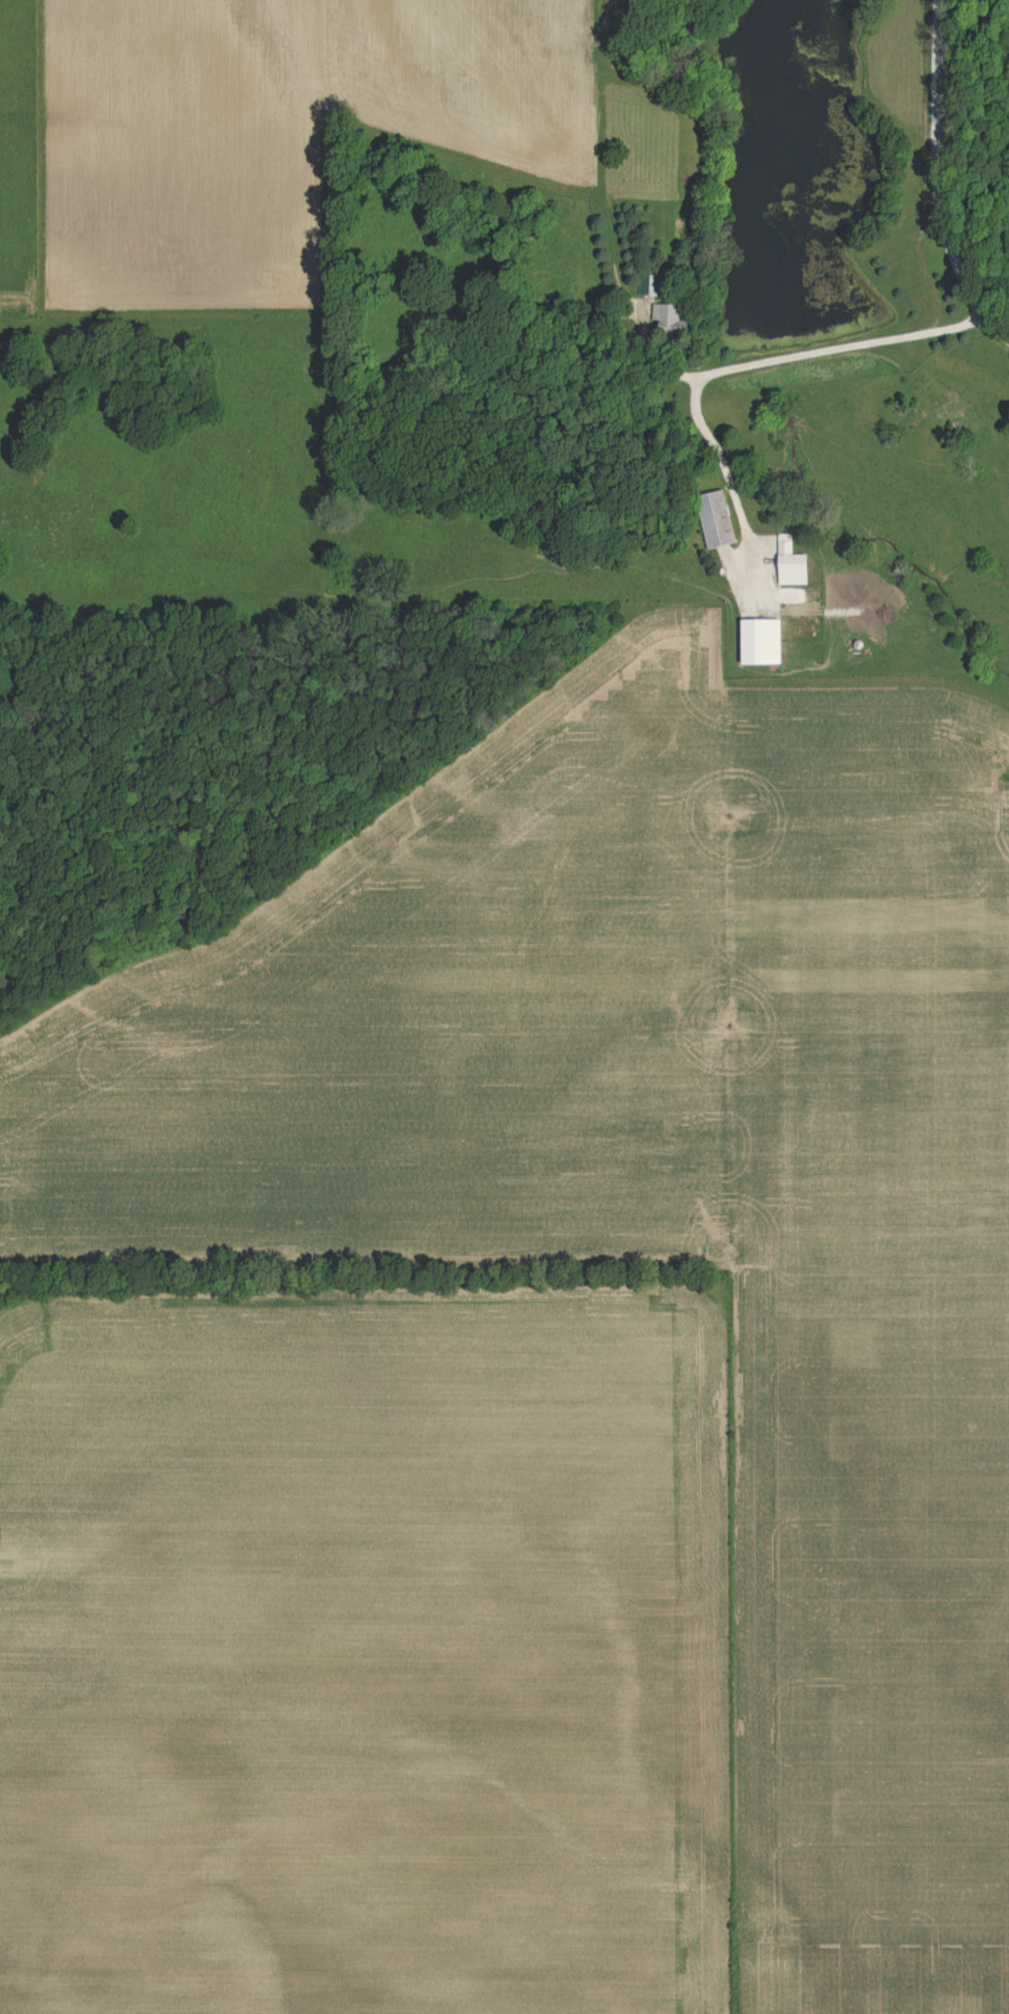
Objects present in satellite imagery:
road: (939, 117)
road: (969, 292)
building: (665, 321)
road: (732, 370)
building: (716, 521)
building: (790, 565)
building: (759, 643)

